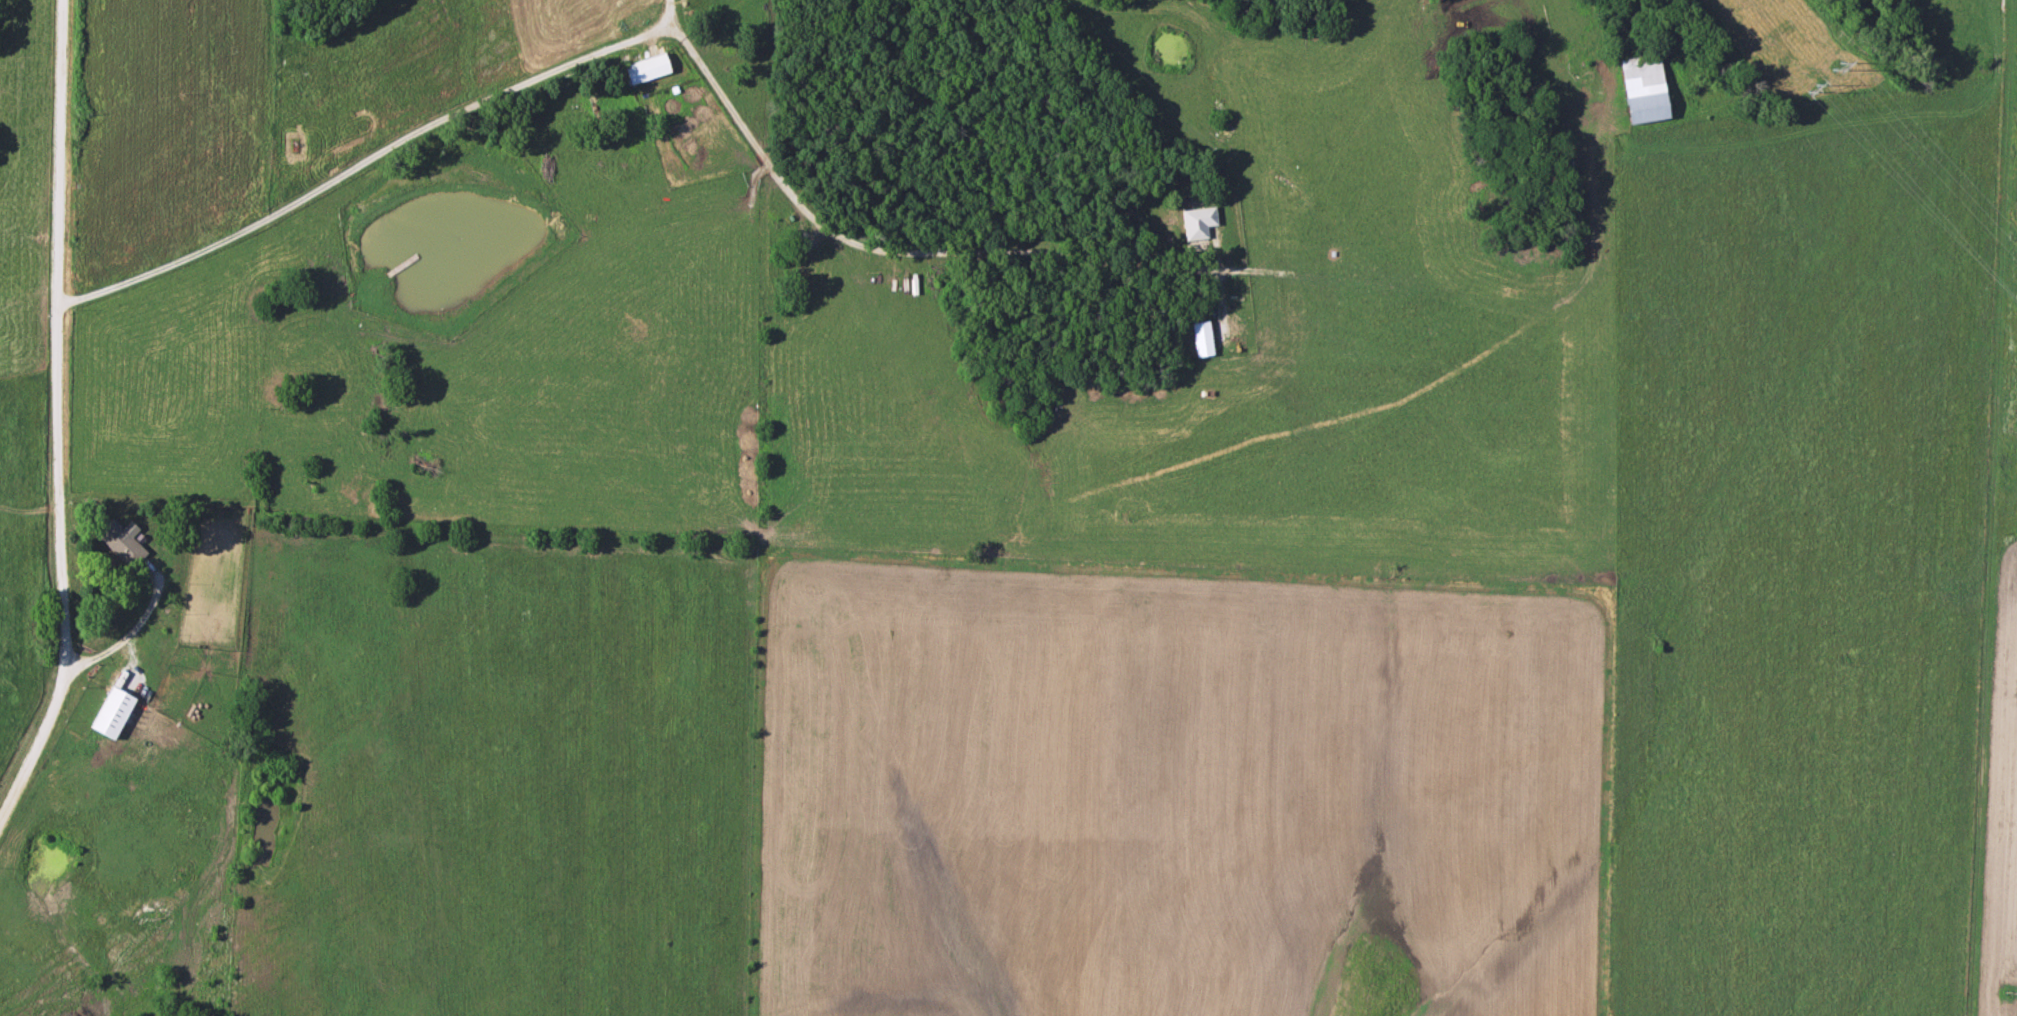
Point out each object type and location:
road: (668, 16)
road: (630, 40)
power tower: (1834, 66)
building: (644, 68)
building: (1641, 88)
power tower: (1812, 88)
building: (1196, 222)
road: (53, 412)
building: (118, 542)
road: (123, 643)
building: (109, 713)
power tower: (2011, 986)

